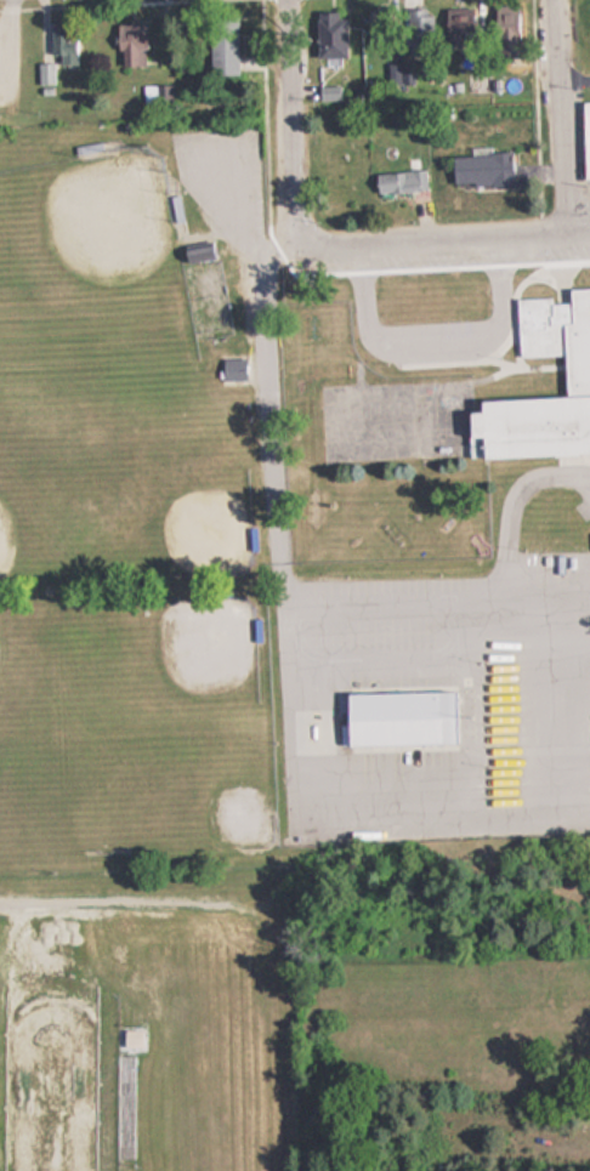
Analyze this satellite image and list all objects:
building: (416, 21)
building: (507, 28)
building: (327, 33)
building: (129, 44)
building: (221, 46)
building: (155, 97)
road: (282, 118)
road: (557, 118)
building: (584, 140)
building: (482, 167)
building: (398, 181)
road: (443, 244)
building: (232, 368)
building: (575, 377)
building: (393, 718)
building: (123, 1107)

